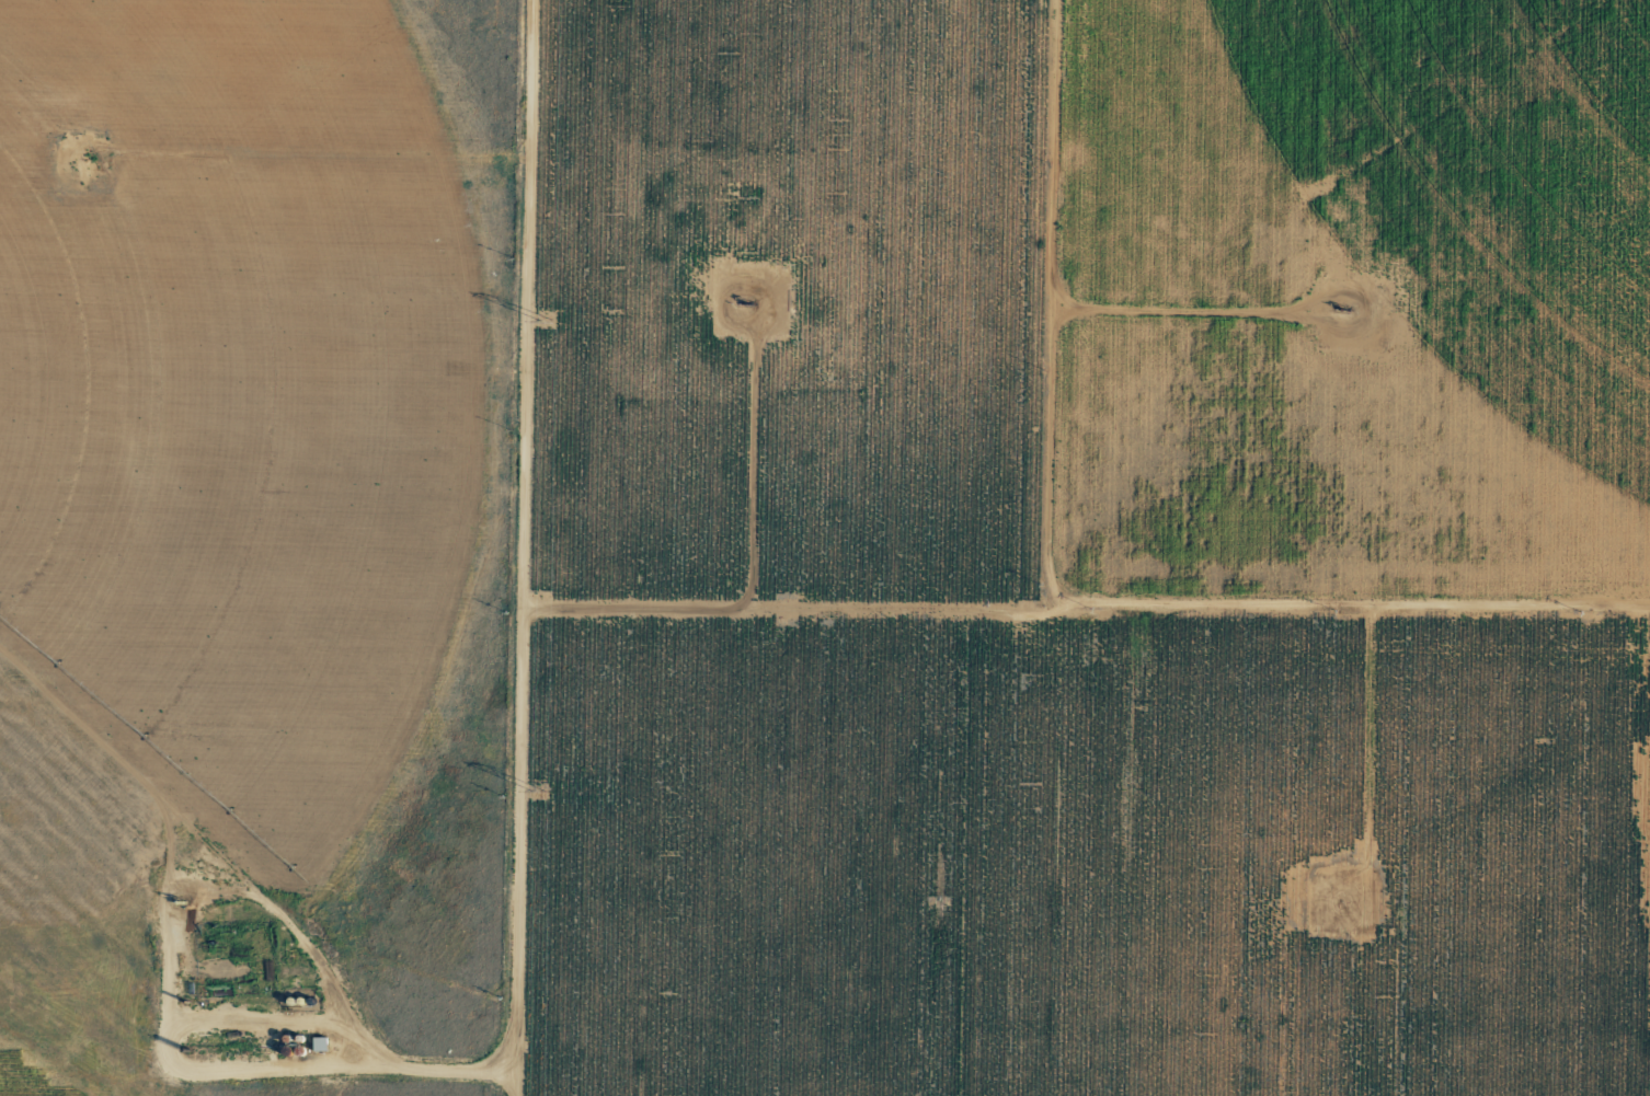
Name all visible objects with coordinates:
petroleum well: (750, 303)
petroleum well: (1342, 311)
power tower: (545, 319)
road: (1068, 349)
road: (541, 547)
road: (1096, 608)
power tower: (539, 789)

